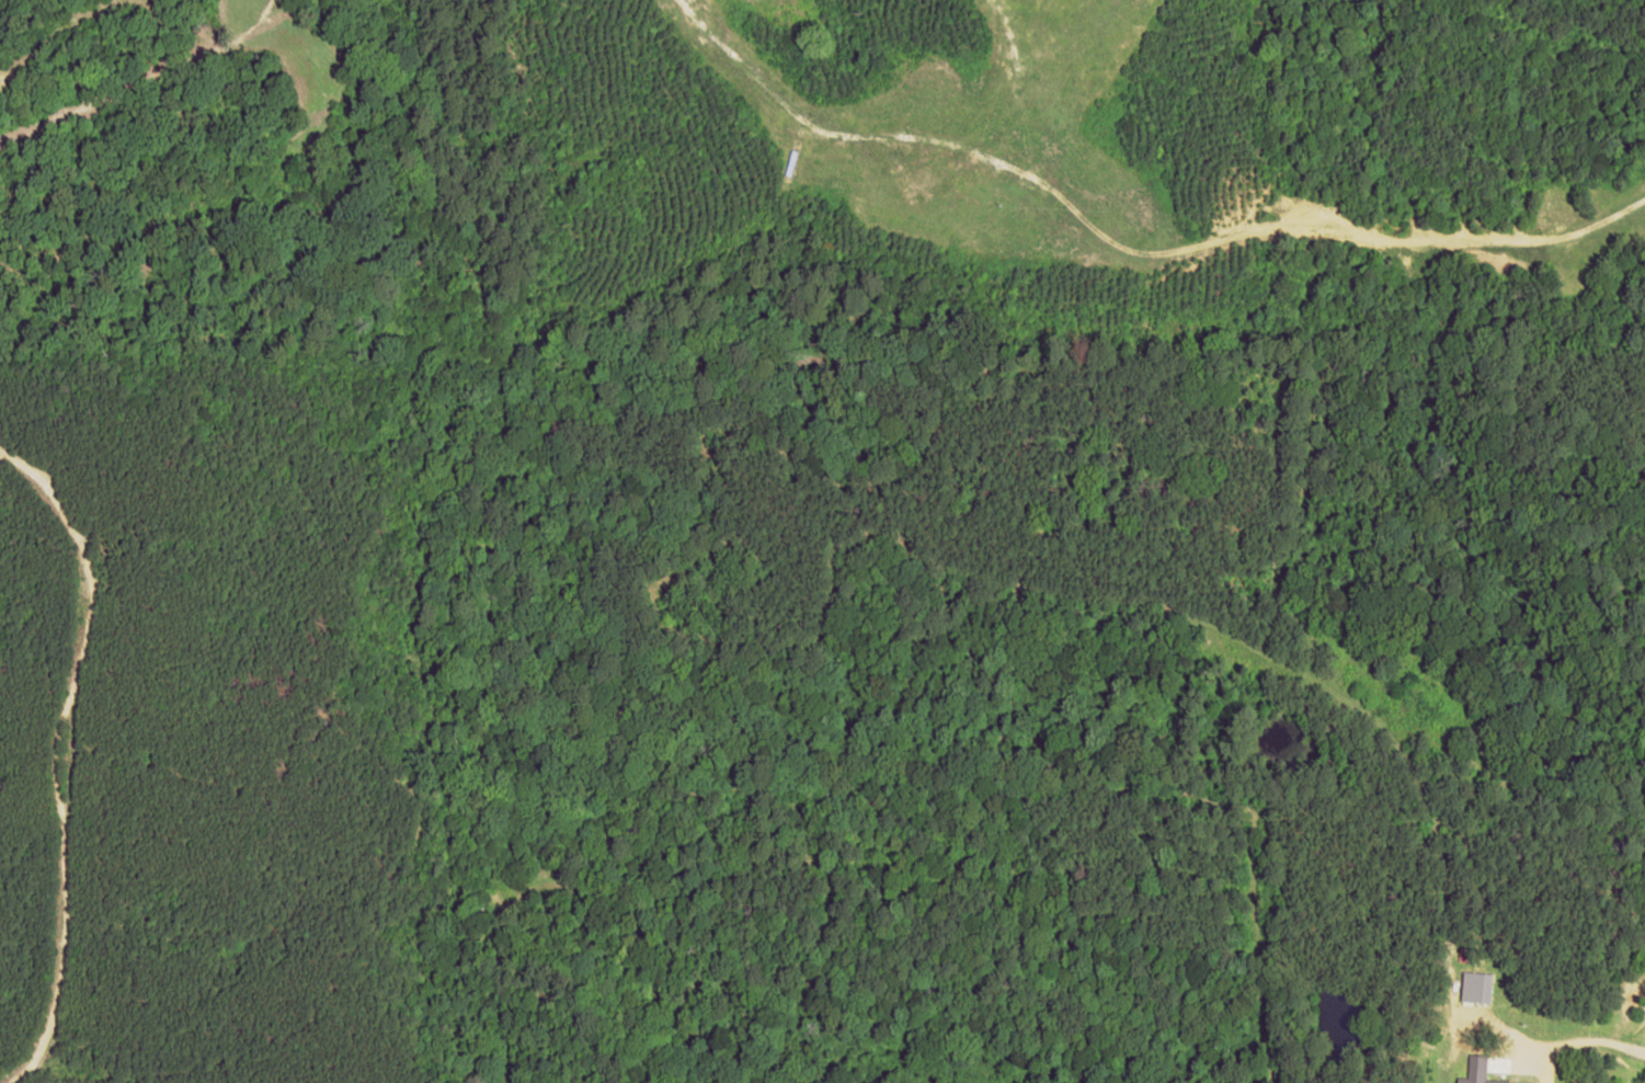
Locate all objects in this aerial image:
building: (1475, 987)
building: (1476, 1071)

